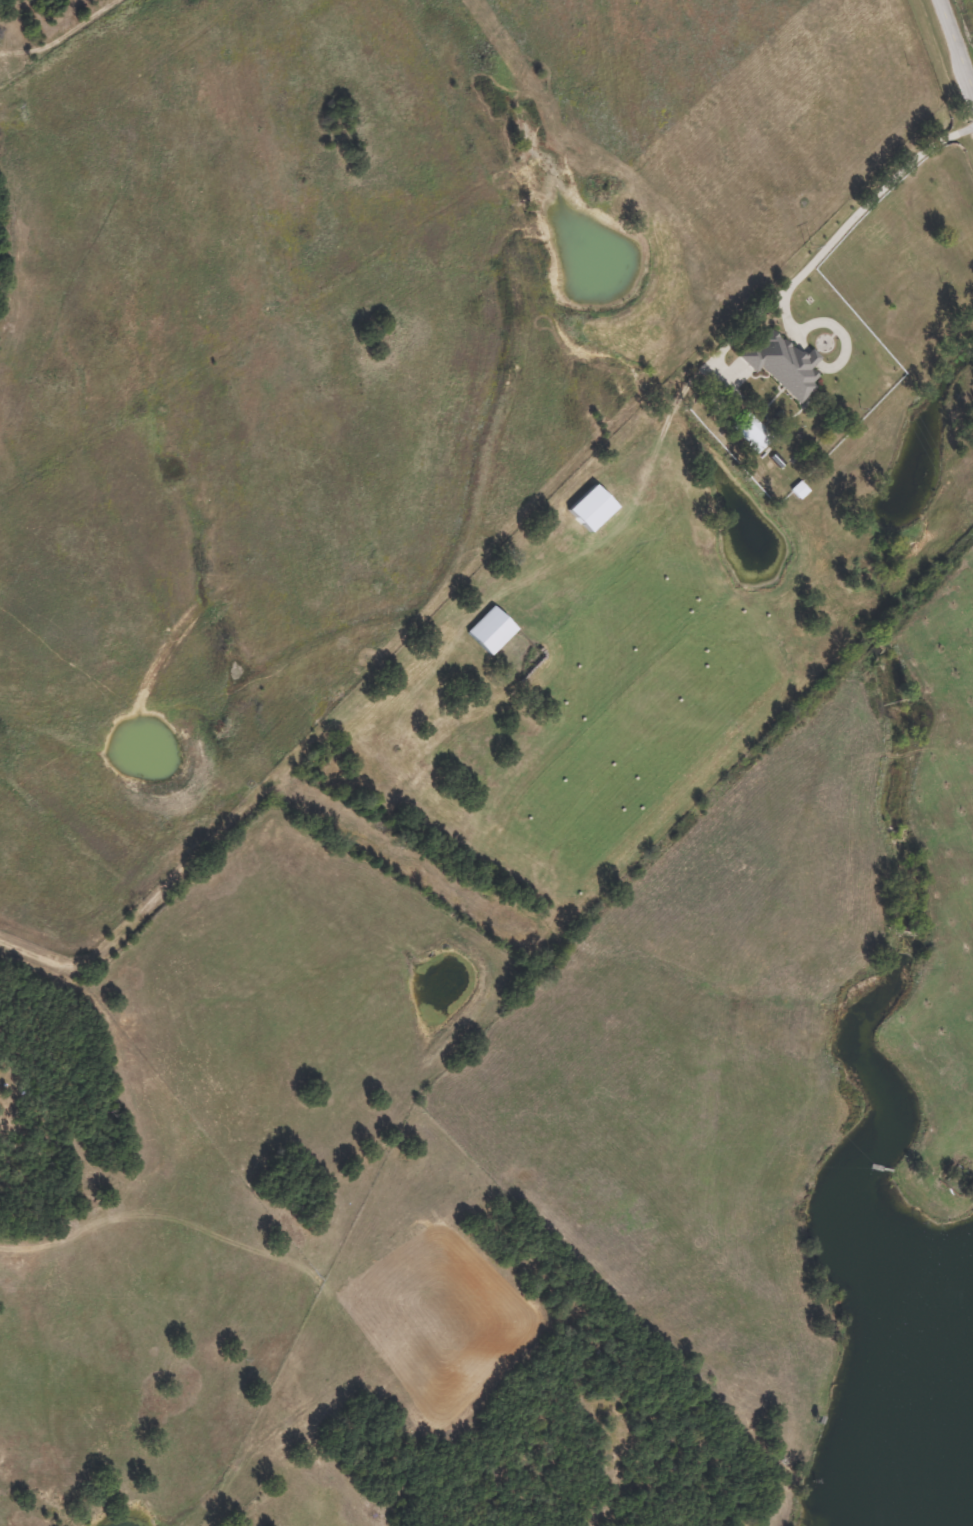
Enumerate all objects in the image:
road: (955, 45)
road: (820, 254)
building: (781, 364)
building: (750, 432)
building: (490, 630)
road: (366, 712)

